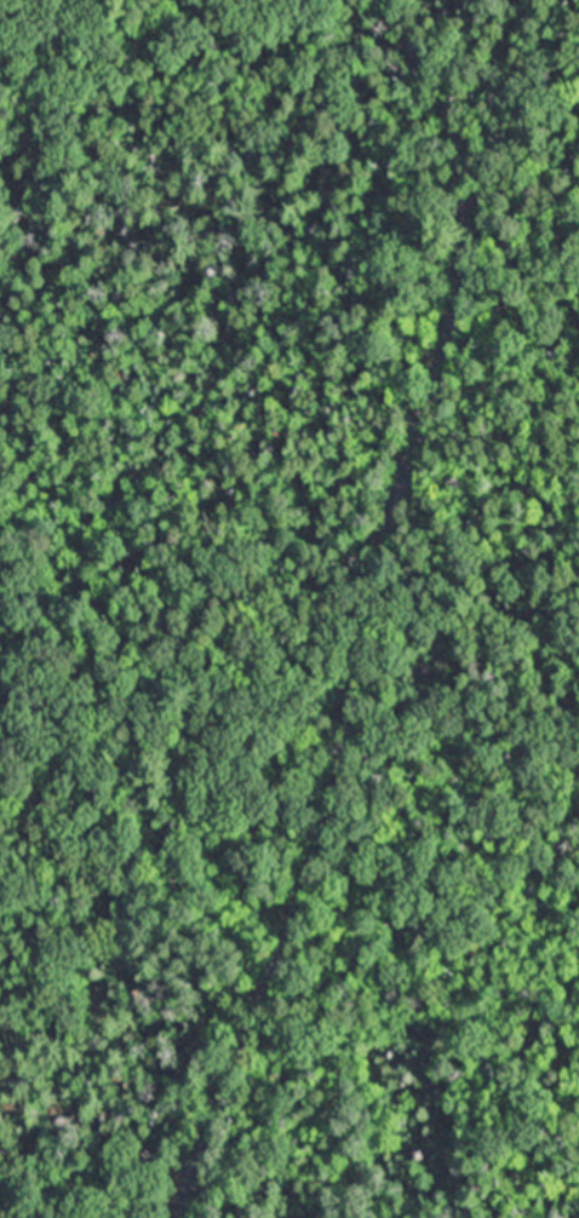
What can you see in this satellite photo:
road: (372, 608)

